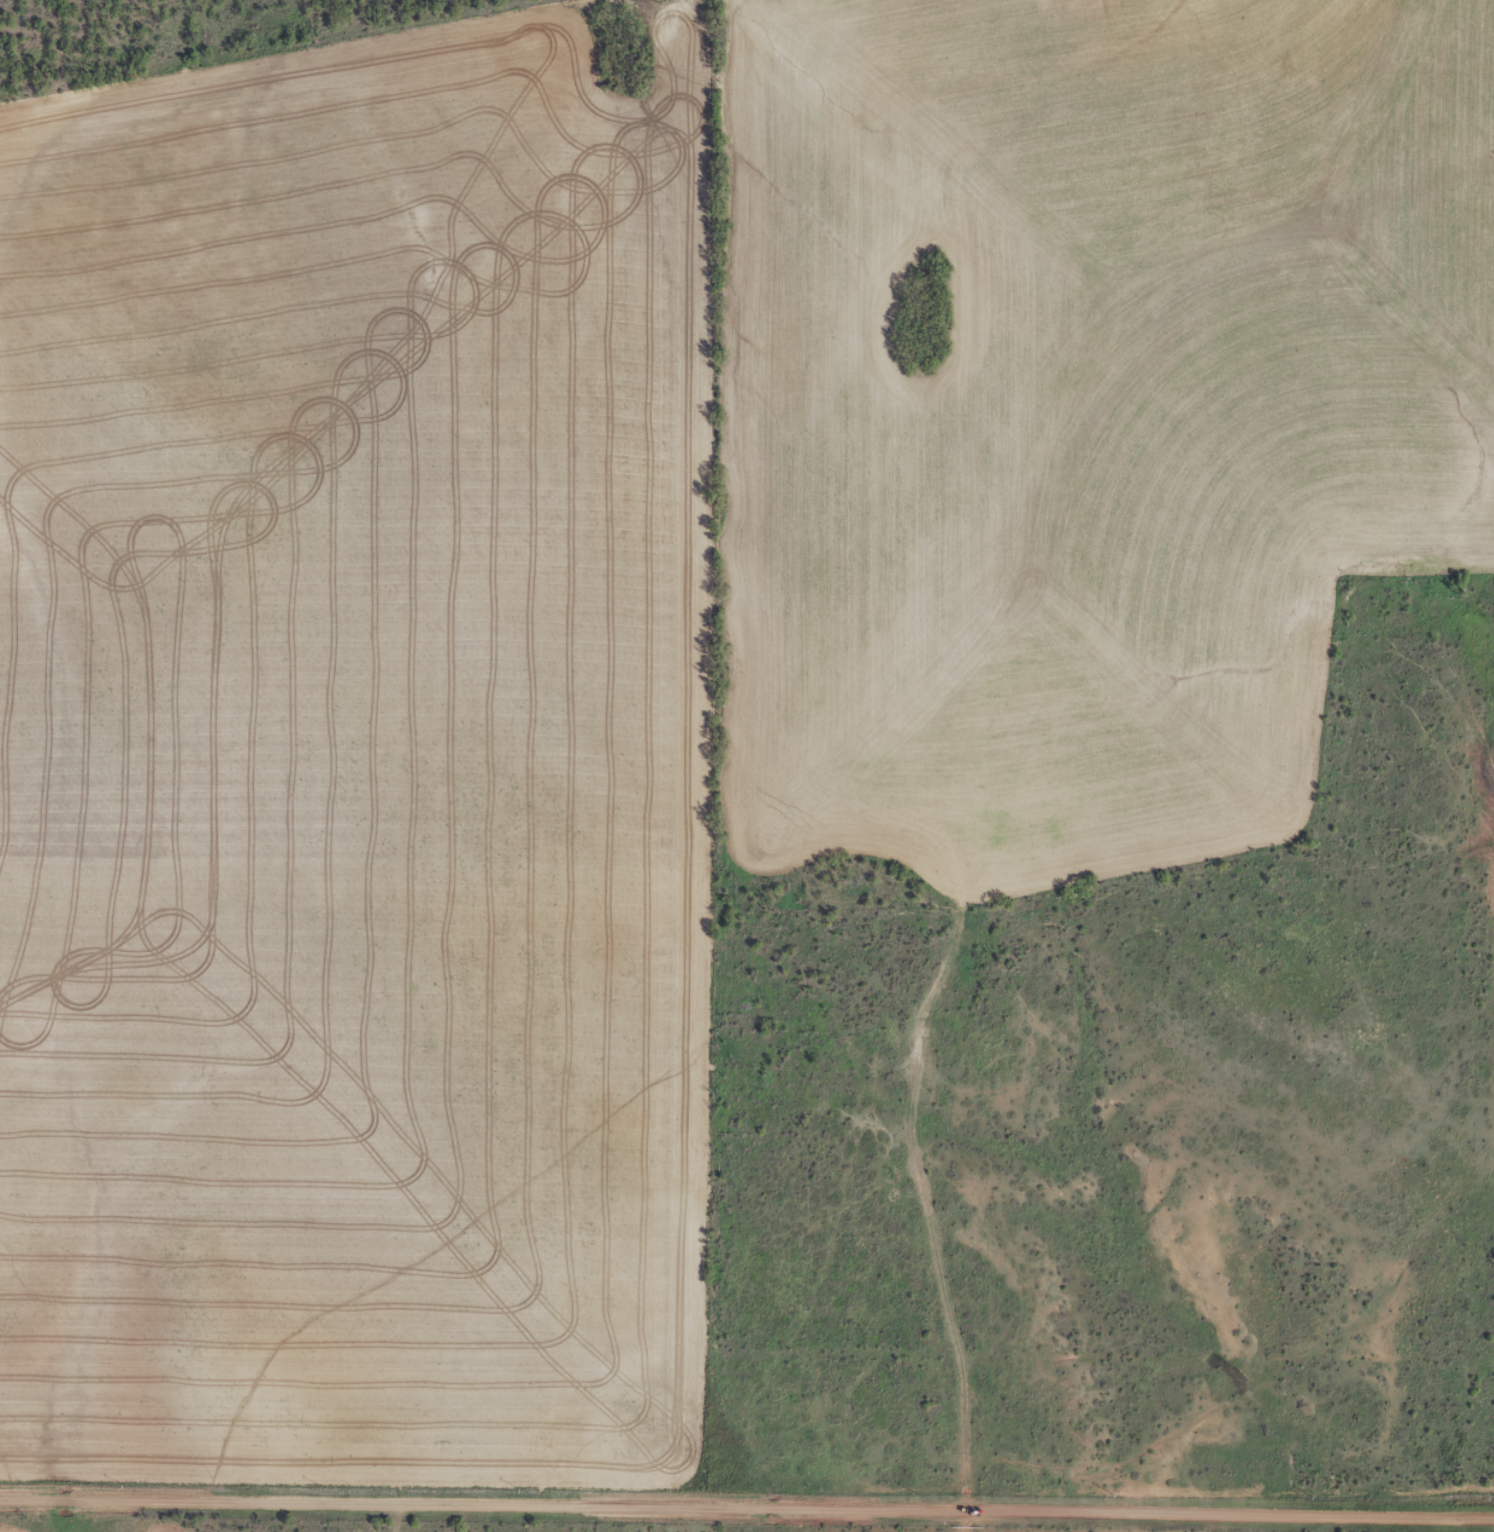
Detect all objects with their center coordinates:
road: (747, 1507)

